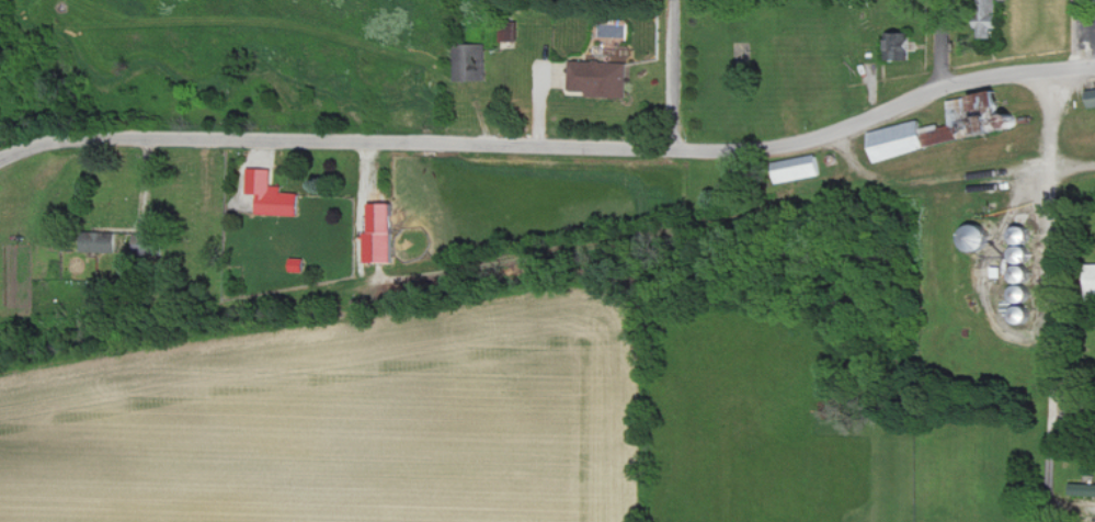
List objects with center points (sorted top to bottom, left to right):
building: (992, 18)
road: (1074, 35)
road: (940, 44)
building: (902, 47)
building: (469, 63)
road: (673, 77)
building: (601, 78)
building: (1091, 98)
road: (883, 113)
road: (1053, 126)
building: (902, 140)
road: (264, 141)
road: (602, 151)
building: (799, 169)
building: (273, 195)
building: (384, 235)
building: (983, 239)
building: (102, 242)
building: (1029, 243)
building: (150, 245)
building: (299, 265)
building: (1029, 275)
building: (1028, 294)
building: (1028, 316)
road: (1052, 329)
road: (1073, 398)
building: (1083, 490)

